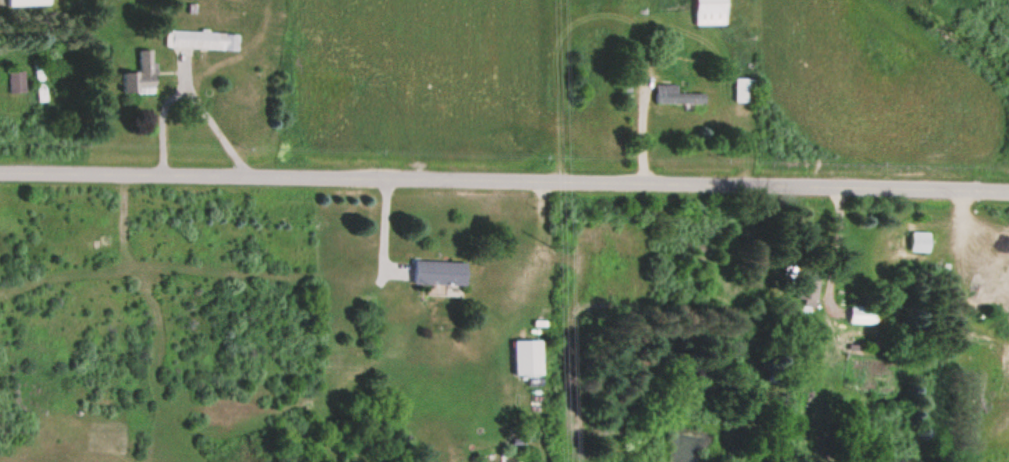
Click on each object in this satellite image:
building: (26, 2)
building: (708, 12)
building: (200, 40)
building: (140, 75)
building: (15, 82)
building: (742, 89)
building: (674, 94)
road: (504, 182)
building: (918, 240)
building: (438, 270)
building: (806, 285)
building: (861, 315)
building: (527, 356)

